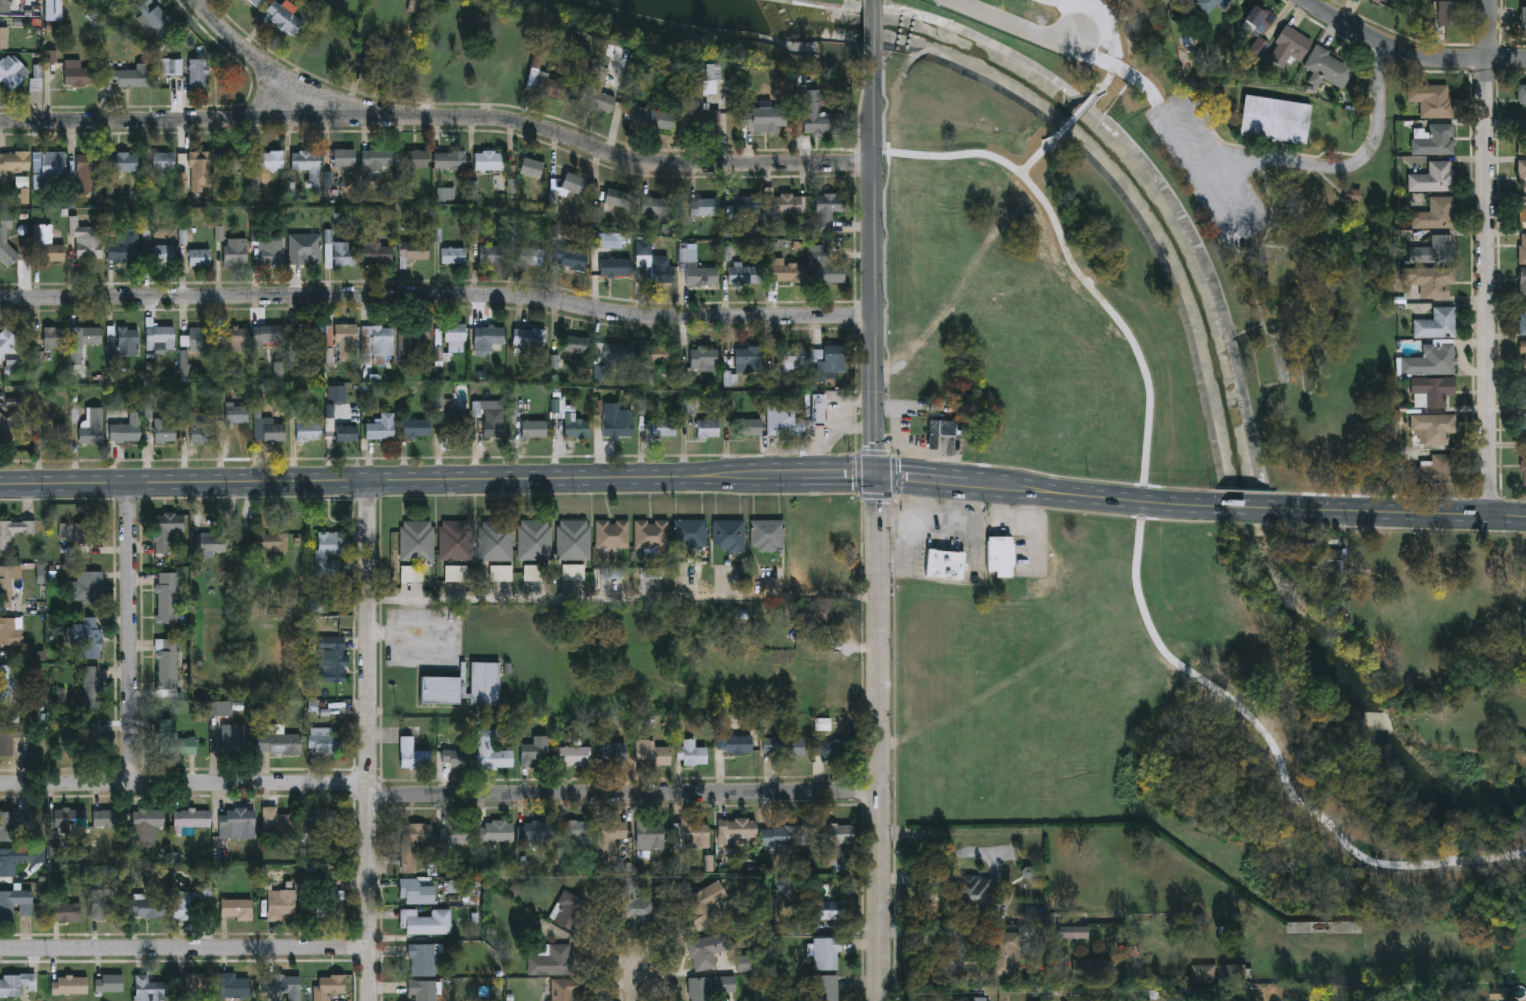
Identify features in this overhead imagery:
building: (1379, 1)
building: (257, 2)
road: (1049, 2)
building: (1210, 4)
building: (6, 5)
building: (1446, 14)
building: (155, 15)
building: (285, 15)
park: (754, 18)
building: (1523, 19)
road: (1015, 26)
building: (1257, 28)
road: (874, 29)
building: (333, 37)
road: (1117, 39)
building: (1289, 47)
road: (1410, 53)
road: (252, 54)
building: (9, 61)
building: (173, 65)
building: (506, 67)
building: (1327, 68)
road: (1122, 71)
building: (77, 72)
building: (198, 72)
building: (448, 72)
building: (124, 75)
building: (550, 85)
building: (597, 89)
building: (1522, 93)
building: (1432, 100)
building: (703, 101)
building: (820, 115)
road: (1074, 116)
road: (441, 117)
building: (764, 117)
building: (652, 118)
building: (1274, 118)
building: (1523, 139)
building: (1435, 141)
building: (345, 156)
building: (379, 157)
building: (199, 158)
building: (233, 158)
building: (418, 158)
building: (271, 159)
building: (450, 159)
road: (1033, 159)
building: (491, 160)
building: (124, 161)
building: (13, 162)
building: (163, 163)
building: (308, 164)
road: (1357, 164)
building: (532, 167)
building: (49, 168)
building: (87, 170)
building: (1523, 175)
building: (1433, 178)
building: (575, 180)
building: (618, 197)
building: (783, 205)
building: (656, 206)
building: (704, 206)
building: (745, 206)
building: (829, 208)
building: (1522, 211)
building: (1436, 214)
road: (1258, 221)
building: (6, 235)
building: (86, 239)
building: (124, 245)
building: (49, 246)
building: (305, 247)
building: (1522, 248)
building: (272, 249)
building: (235, 250)
building: (1435, 250)
building: (162, 251)
building: (379, 251)
building: (342, 252)
building: (414, 252)
building: (487, 252)
building: (453, 254)
building: (531, 254)
building: (199, 255)
building: (573, 258)
road: (1482, 258)
building: (657, 263)
building: (825, 265)
building: (616, 266)
building: (787, 269)
building: (745, 272)
building: (701, 273)
building: (1433, 280)
building: (1522, 282)
road: (438, 294)
building: (1522, 318)
building: (1437, 323)
building: (454, 330)
building: (269, 333)
building: (53, 334)
building: (88, 335)
building: (159, 335)
building: (487, 335)
building: (412, 336)
building: (529, 336)
building: (200, 337)
building: (237, 337)
building: (304, 337)
building: (127, 338)
building: (6, 339)
building: (338, 339)
building: (380, 341)
building: (577, 342)
building: (660, 352)
building: (1523, 354)
building: (793, 355)
building: (610, 356)
building: (704, 356)
building: (749, 356)
building: (828, 359)
building: (1431, 360)
building: (1434, 388)
building: (1523, 391)
building: (818, 408)
building: (236, 412)
building: (778, 417)
building: (1523, 422)
building: (616, 423)
building: (575, 424)
building: (268, 425)
building: (381, 425)
building: (457, 425)
building: (664, 425)
building: (749, 425)
building: (92, 426)
building: (202, 426)
building: (415, 426)
building: (494, 426)
building: (708, 426)
building: (1433, 426)
building: (7, 427)
building: (308, 427)
building: (534, 427)
building: (126, 428)
road: (913, 428)
building: (54, 429)
building: (164, 429)
road: (860, 429)
road: (842, 430)
building: (939, 430)
building: (347, 431)
road: (874, 453)
road: (910, 461)
road: (942, 461)
building: (1524, 468)
building: (1434, 469)
road: (858, 474)
road: (894, 475)
traffic signals: (879, 476)
road: (439, 479)
road: (1050, 491)
road: (877, 496)
road: (1251, 507)
road: (1403, 513)
building: (166, 529)
road: (879, 529)
building: (14, 531)
building: (85, 533)
building: (611, 533)
building: (651, 533)
building: (690, 533)
building: (728, 535)
building: (768, 535)
building: (535, 539)
building: (573, 539)
building: (417, 540)
building: (456, 540)
building: (495, 540)
building: (272, 542)
building: (209, 544)
road: (1138, 548)
park: (1149, 551)
building: (331, 552)
building: (1000, 555)
building: (1330, 560)
building: (945, 563)
building: (89, 586)
building: (6, 587)
building: (166, 597)
road: (625, 598)
road: (131, 632)
building: (10, 633)
building: (85, 638)
building: (336, 658)
building: (167, 663)
building: (485, 683)
building: (7, 685)
building: (93, 686)
building: (440, 690)
building: (823, 722)
building: (90, 738)
building: (235, 738)
road: (370, 740)
building: (6, 741)
building: (175, 741)
building: (325, 742)
building: (734, 742)
building: (279, 743)
building: (784, 745)
building: (826, 747)
building: (491, 749)
building: (533, 749)
building: (611, 750)
building: (692, 750)
building: (649, 751)
building: (411, 753)
building: (454, 754)
building: (572, 754)
road: (439, 795)
building: (69, 817)
building: (107, 817)
building: (322, 817)
building: (192, 819)
building: (275, 820)
building: (237, 823)
building: (10, 824)
building: (145, 826)
building: (737, 826)
building: (535, 829)
building: (495, 830)
building: (577, 830)
building: (453, 832)
building: (648, 834)
building: (693, 835)
building: (783, 835)
building: (608, 836)
building: (832, 839)
building: (413, 841)
building: (7, 863)
building: (417, 890)
building: (974, 894)
building: (189, 901)
building: (633, 901)
building: (702, 901)
building: (105, 903)
building: (15, 904)
building: (280, 904)
building: (330, 906)
building: (148, 908)
building: (236, 909)
building: (826, 909)
building: (569, 910)
building: (65, 912)
building: (426, 921)
building: (1071, 932)
road: (186, 947)
building: (705, 949)
building: (825, 952)
building: (1001, 956)
building: (421, 957)
building: (549, 958)
building: (1231, 972)
building: (1202, 973)
building: (108, 983)
building: (193, 983)
building: (16, 985)
building: (70, 986)
building: (235, 986)
building: (328, 986)
building: (709, 986)
building: (282, 987)
road: (636, 987)
building: (823, 987)
building: (147, 989)
building: (421, 989)
building: (564, 989)
building: (976, 999)

